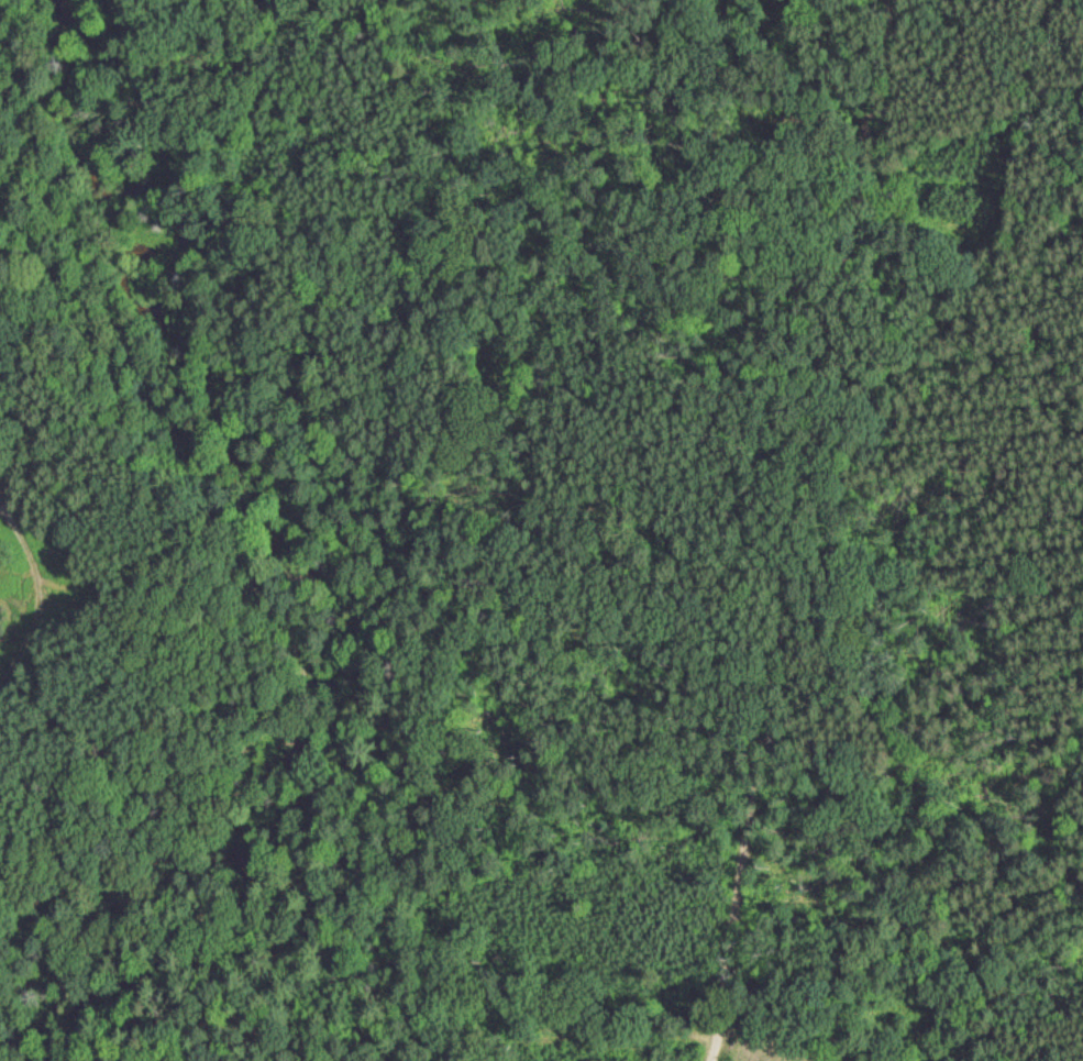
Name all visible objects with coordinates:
road: (752, 530)

